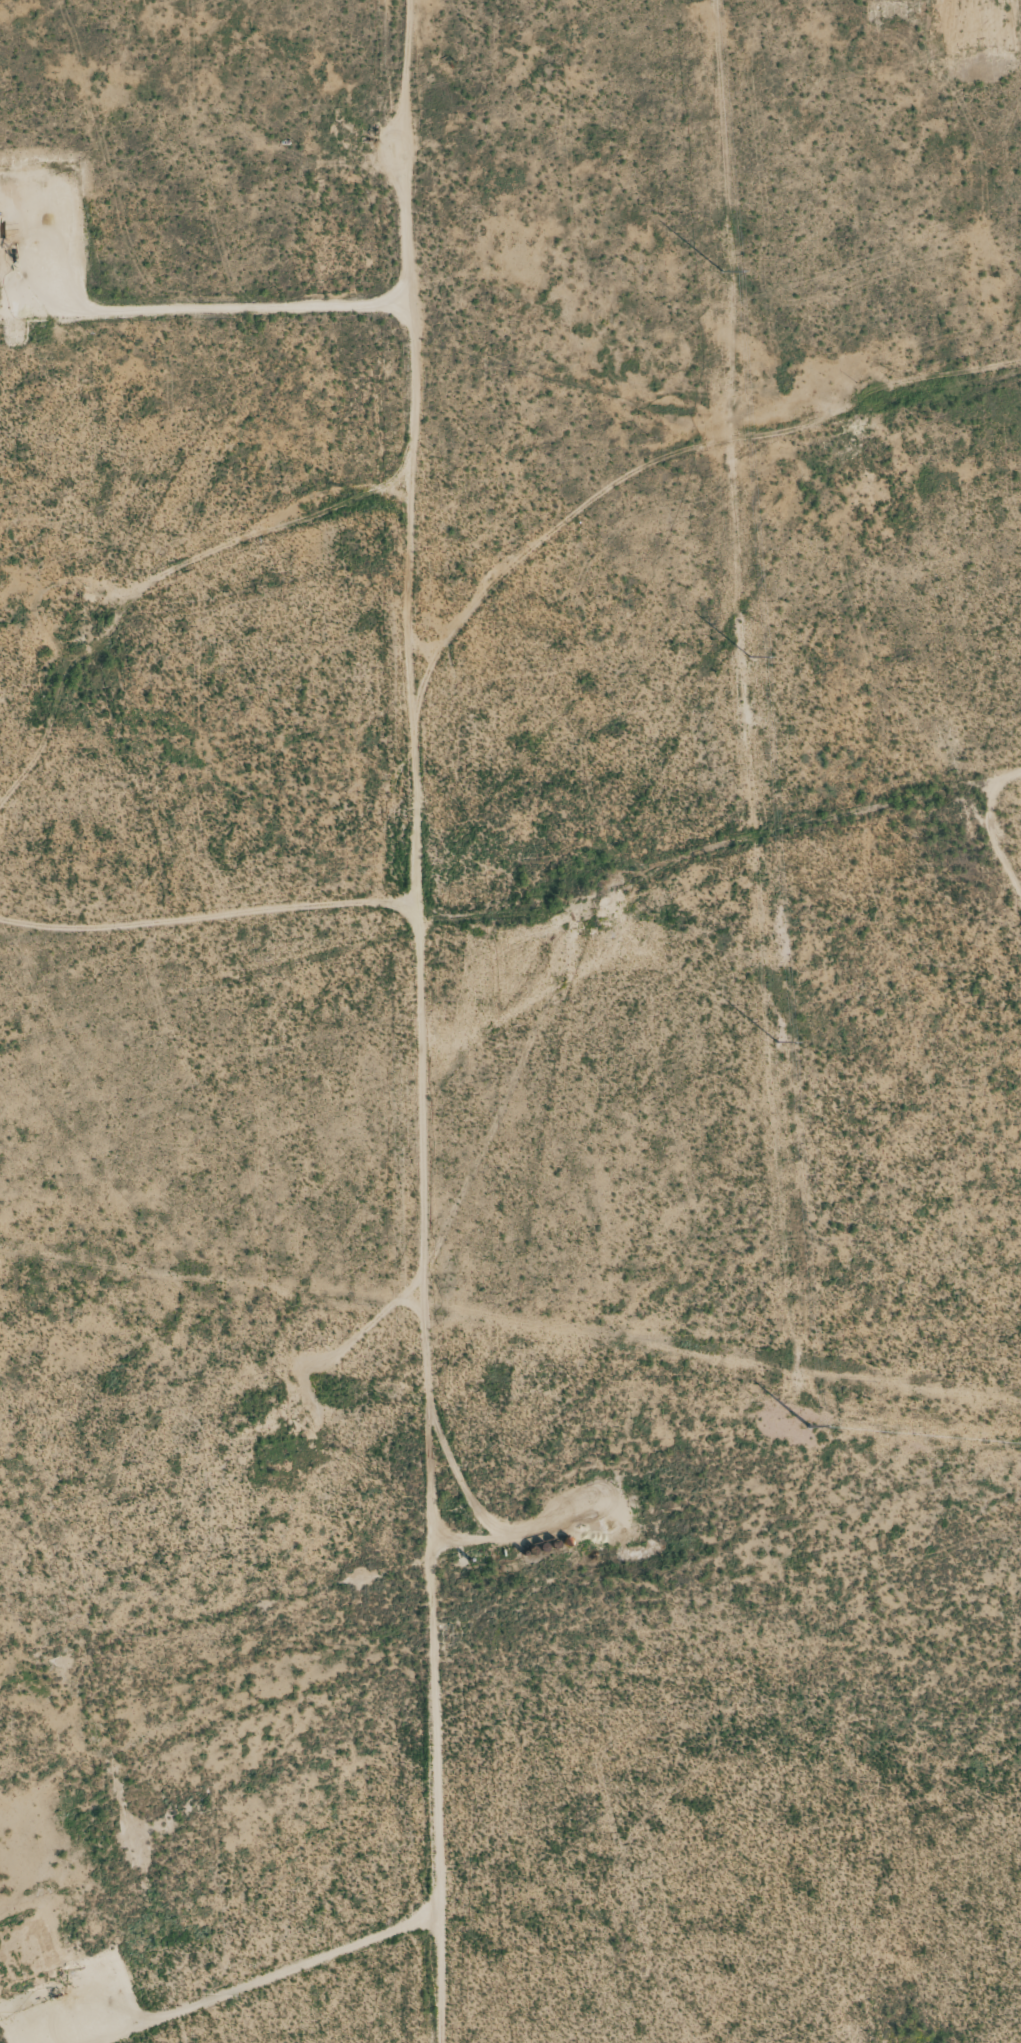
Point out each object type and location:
power tower: (722, 271)
power tower: (751, 656)
road: (193, 915)
road: (392, 1021)
power tower: (777, 1040)
power tower: (811, 1425)

